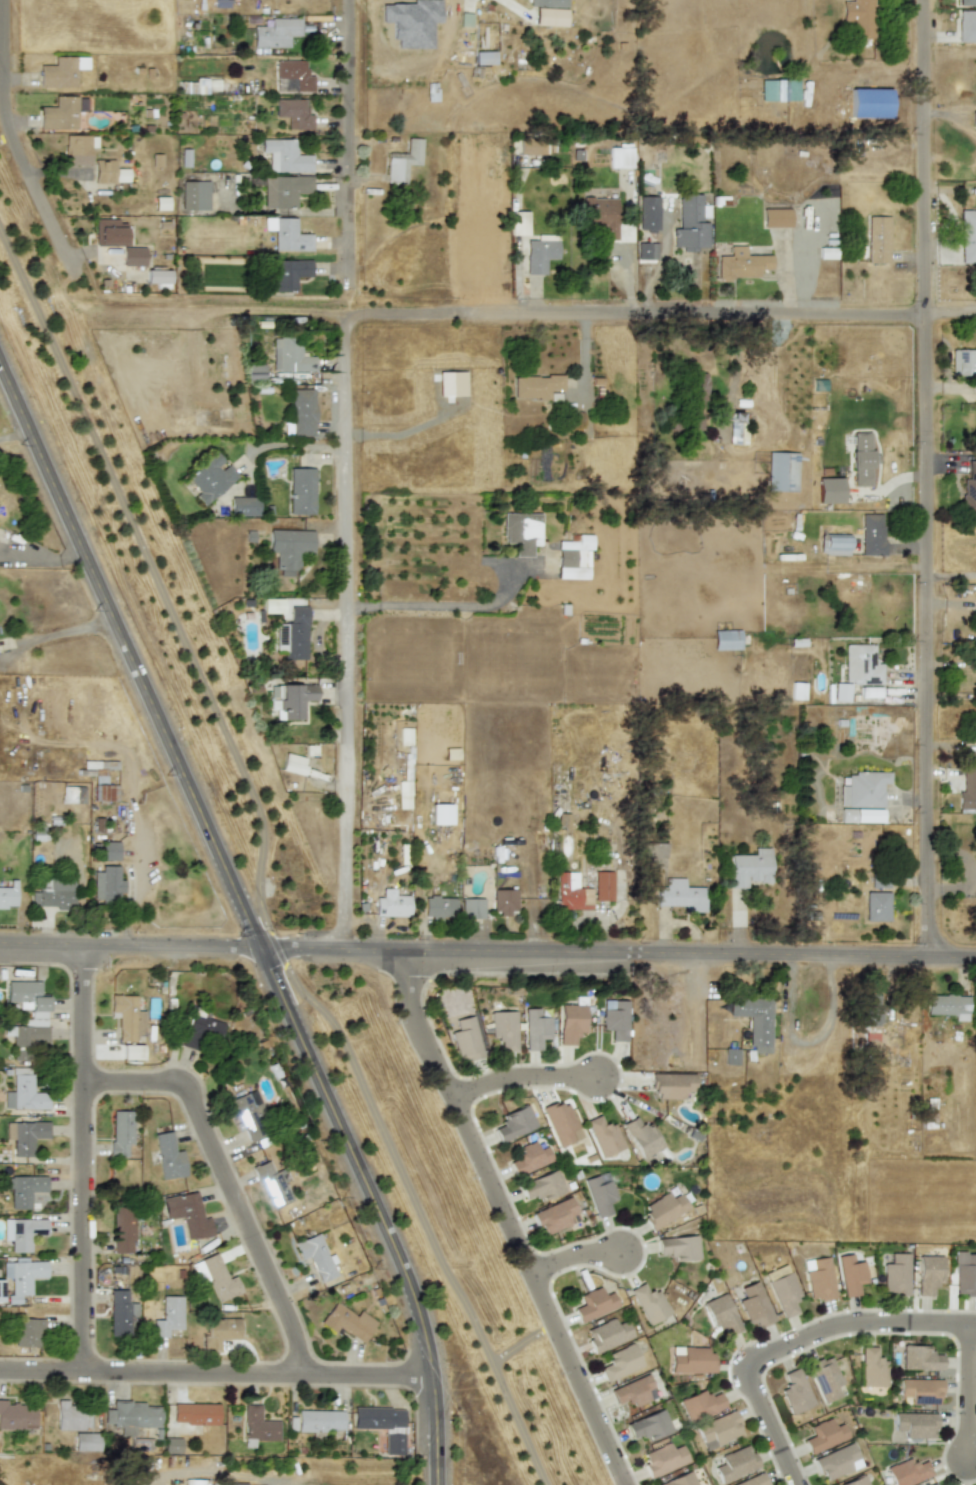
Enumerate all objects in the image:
building: (548, 3)
building: (966, 3)
road: (514, 7)
building: (549, 17)
building: (858, 17)
building: (966, 26)
building: (276, 32)
building: (484, 58)
building: (61, 71)
building: (294, 74)
building: (203, 86)
building: (779, 90)
building: (870, 103)
building: (59, 114)
building: (294, 114)
building: (973, 117)
road: (349, 136)
road: (16, 142)
building: (532, 146)
building: (77, 150)
building: (286, 156)
building: (620, 156)
building: (402, 161)
building: (108, 172)
building: (285, 190)
building: (195, 195)
building: (648, 213)
building: (601, 216)
building: (776, 218)
building: (519, 223)
building: (690, 224)
building: (109, 232)
building: (288, 234)
building: (968, 236)
building: (878, 239)
building: (646, 251)
building: (540, 253)
building: (133, 256)
building: (742, 264)
building: (286, 274)
building: (157, 277)
road: (534, 317)
building: (290, 356)
building: (963, 362)
building: (255, 372)
building: (451, 383)
building: (698, 384)
building: (535, 386)
building: (974, 388)
building: (302, 412)
building: (737, 428)
road: (15, 434)
road: (290, 445)
building: (861, 459)
building: (782, 471)
building: (210, 477)
road: (927, 481)
building: (969, 489)
building: (829, 490)
building: (302, 491)
building: (244, 506)
building: (522, 532)
building: (872, 534)
building: (835, 544)
building: (289, 548)
road: (42, 552)
building: (574, 558)
road: (951, 575)
building: (272, 606)
road: (420, 608)
road: (55, 634)
road: (346, 634)
building: (293, 635)
building: (726, 639)
building: (860, 665)
building: (797, 690)
building: (841, 692)
building: (869, 692)
building: (292, 700)
building: (406, 737)
building: (293, 763)
building: (863, 789)
building: (967, 792)
building: (71, 797)
building: (441, 814)
building: (860, 815)
building: (110, 851)
road: (265, 864)
building: (749, 868)
building: (107, 883)
building: (582, 890)
building: (54, 894)
building: (8, 895)
building: (680, 895)
building: (504, 900)
building: (392, 904)
building: (876, 906)
building: (439, 907)
building: (472, 908)
road: (247, 914)
road: (132, 951)
road: (620, 957)
building: (948, 1006)
building: (869, 1009)
building: (38, 1014)
building: (128, 1018)
building: (614, 1018)
building: (754, 1021)
building: (570, 1023)
road: (417, 1028)
building: (201, 1029)
building: (502, 1029)
building: (535, 1029)
building: (466, 1038)
road: (522, 1078)
building: (671, 1085)
building: (24, 1094)
building: (247, 1113)
building: (514, 1123)
building: (560, 1123)
building: (24, 1136)
building: (604, 1136)
building: (642, 1137)
building: (123, 1146)
building: (168, 1156)
building: (529, 1158)
road: (85, 1161)
road: (227, 1184)
building: (273, 1184)
building: (542, 1186)
building: (24, 1190)
building: (599, 1193)
building: (663, 1209)
building: (187, 1214)
building: (123, 1229)
building: (22, 1232)
building: (678, 1247)
building: (315, 1256)
road: (577, 1257)
building: (928, 1274)
building: (964, 1274)
building: (851, 1275)
building: (895, 1275)
building: (216, 1276)
building: (21, 1277)
building: (818, 1278)
building: (0, 1285)
road: (539, 1290)
building: (782, 1290)
building: (648, 1303)
building: (593, 1304)
building: (753, 1305)
building: (120, 1313)
building: (721, 1314)
building: (169, 1316)
building: (347, 1322)
building: (223, 1328)
building: (27, 1331)
building: (607, 1334)
road: (794, 1342)
building: (919, 1358)
building: (692, 1360)
building: (620, 1362)
building: (871, 1368)
road: (216, 1372)
building: (842, 1373)
building: (825, 1379)
building: (633, 1391)
building: (797, 1391)
building: (920, 1391)
road: (966, 1401)
building: (700, 1405)
building: (195, 1414)
building: (72, 1416)
building: (132, 1416)
building: (16, 1417)
building: (378, 1418)
building: (319, 1420)
building: (916, 1424)
building: (257, 1425)
building: (649, 1425)
building: (718, 1429)
building: (823, 1435)
building: (172, 1445)
building: (662, 1459)
building: (835, 1461)
building: (735, 1463)
building: (907, 1472)
building: (678, 1480)
building: (751, 1480)
building: (856, 1481)
building: (935, 1483)

